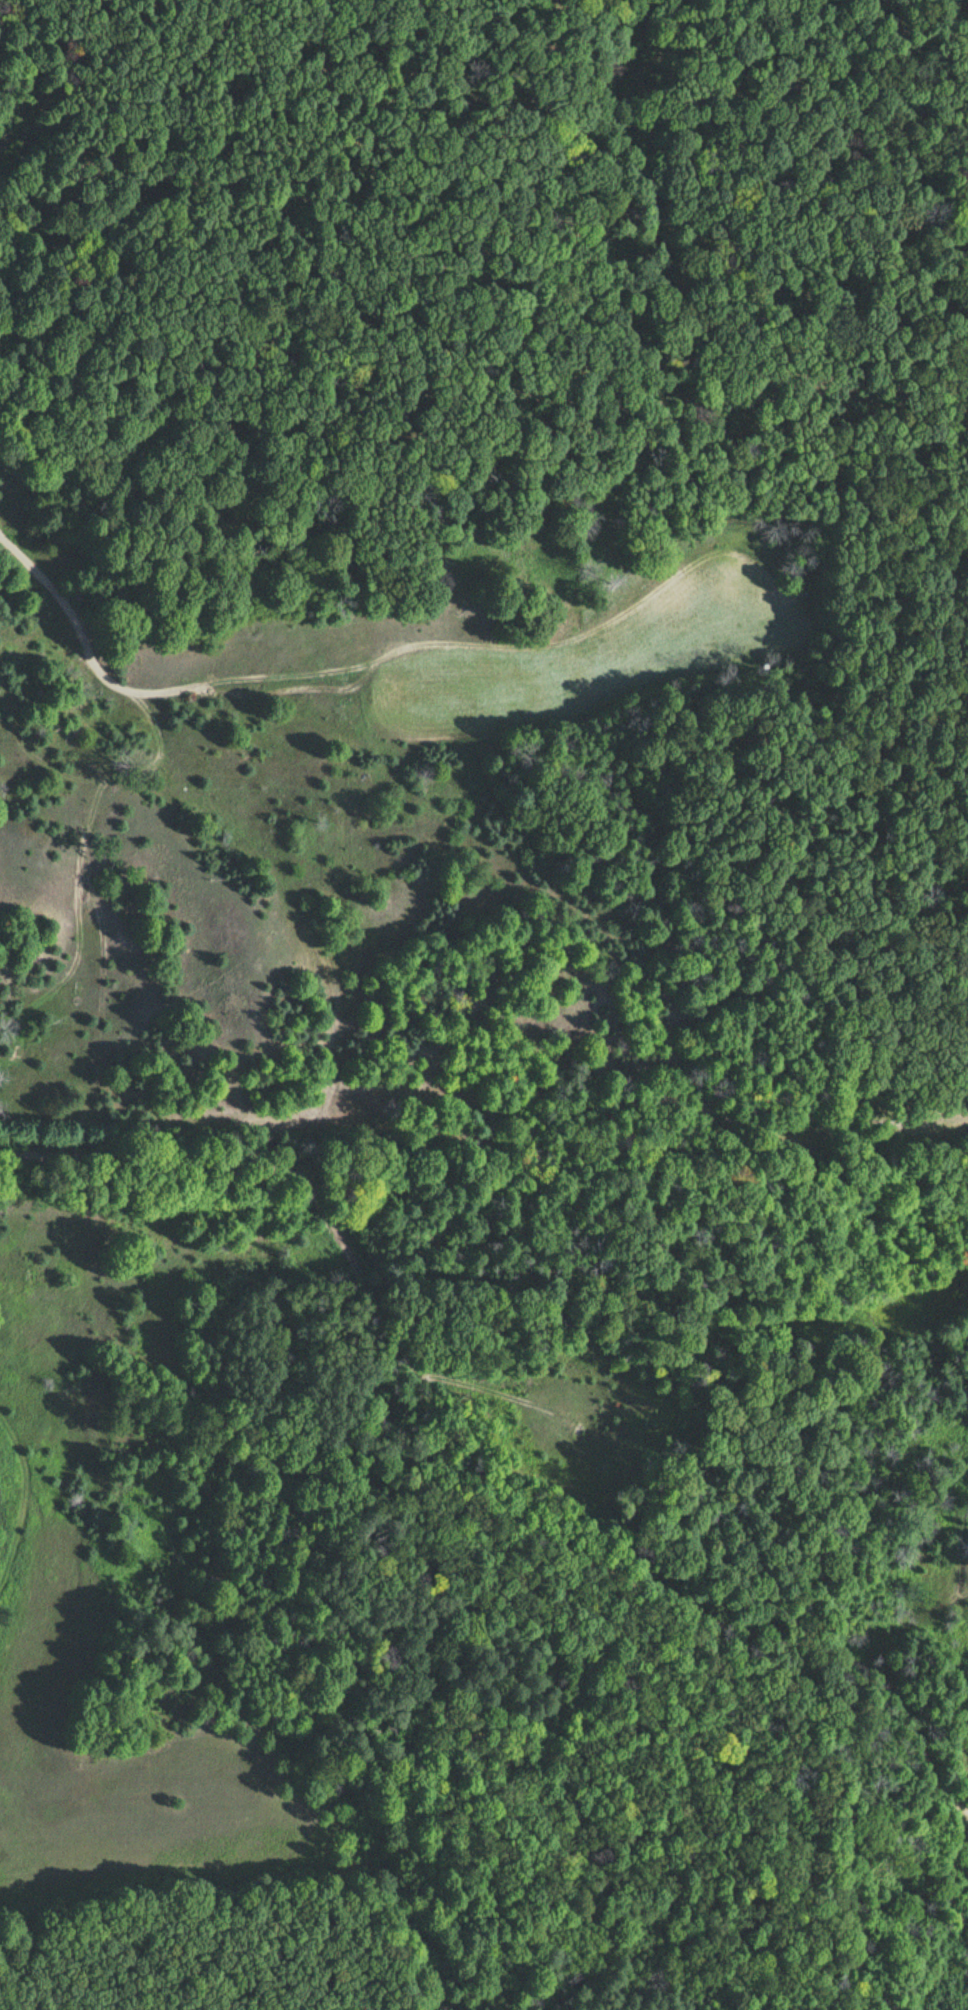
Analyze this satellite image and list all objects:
road: (483, 1173)
road: (628, 1569)

